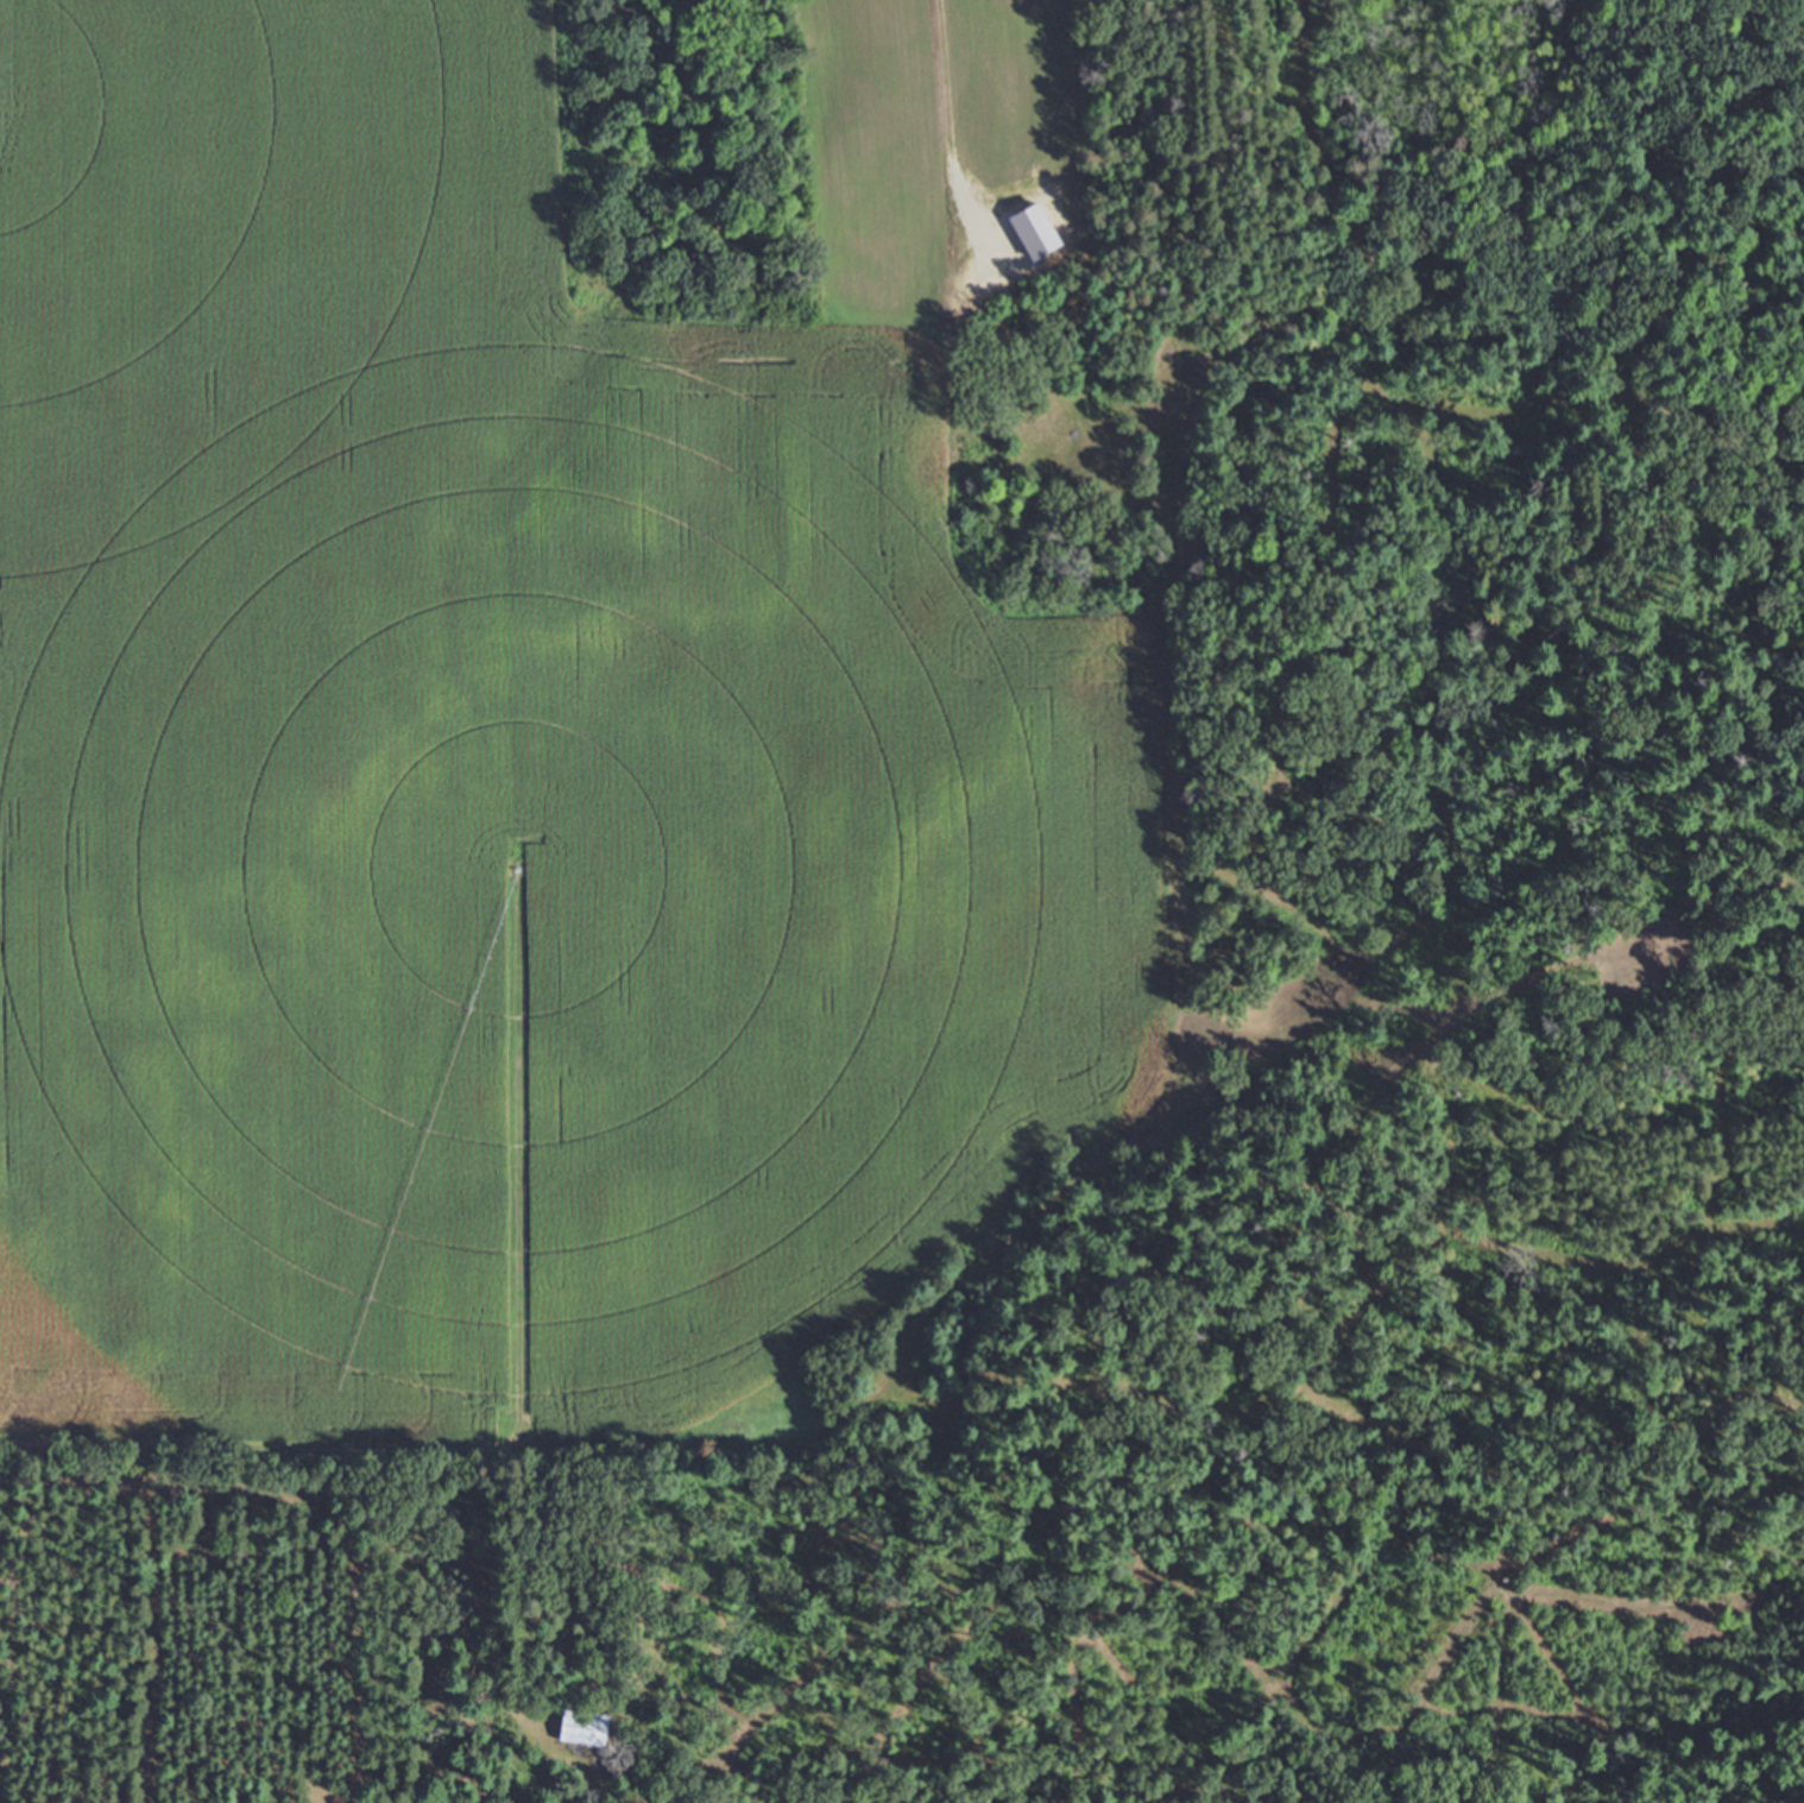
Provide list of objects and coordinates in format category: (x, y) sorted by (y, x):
building: (581, 1727)

